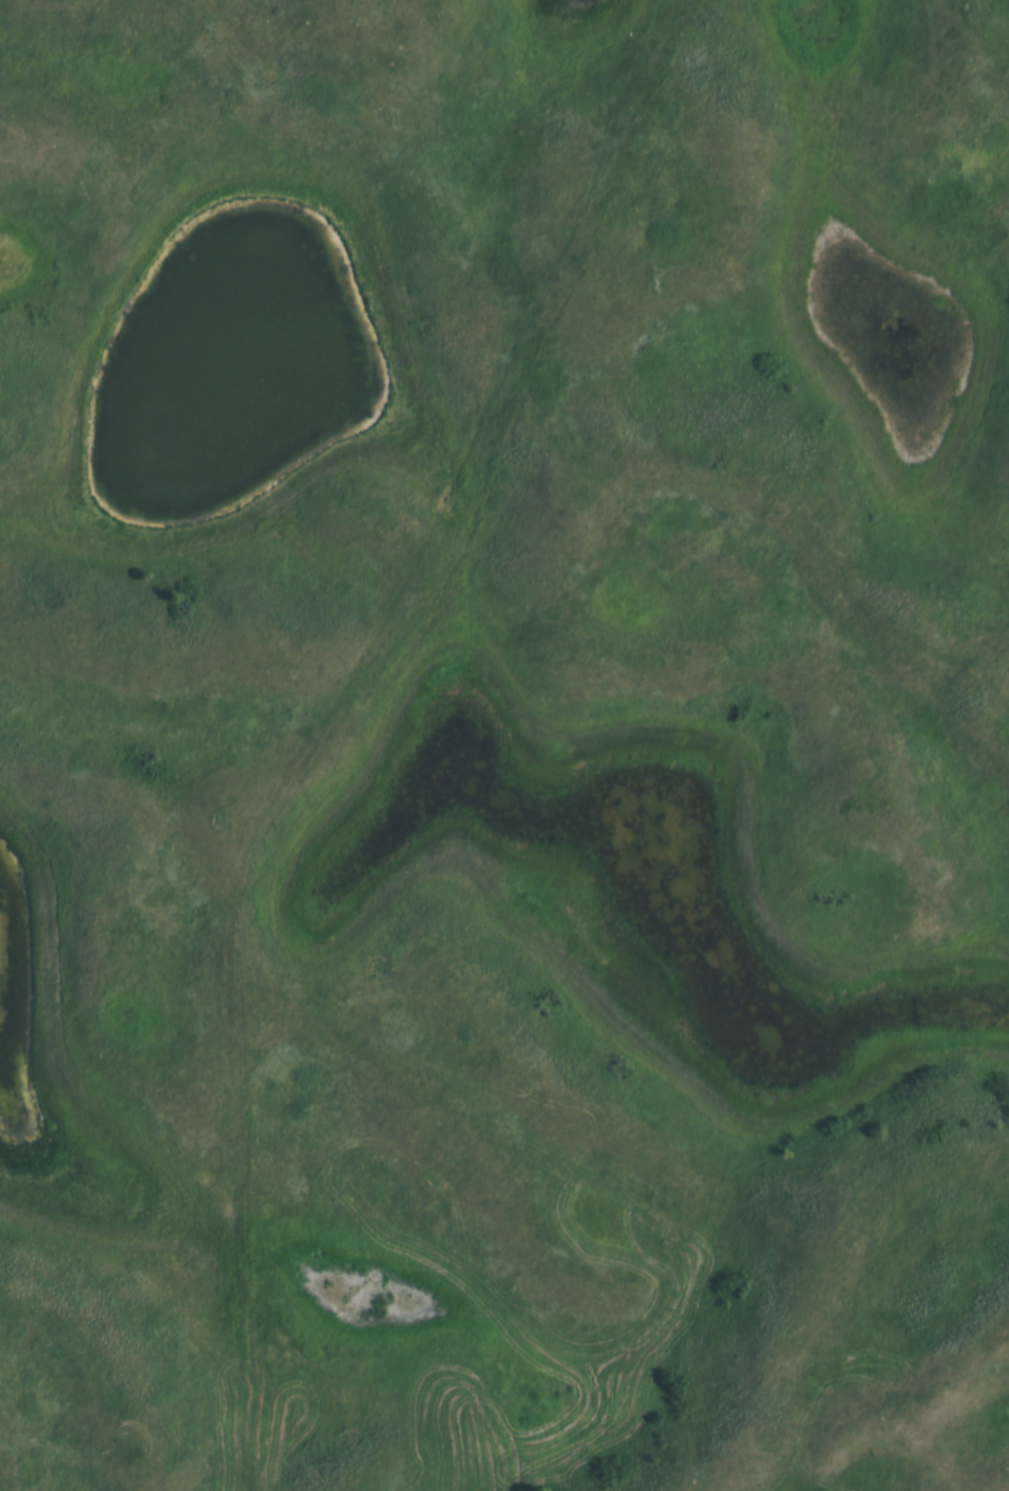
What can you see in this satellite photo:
road: (489, 385)

